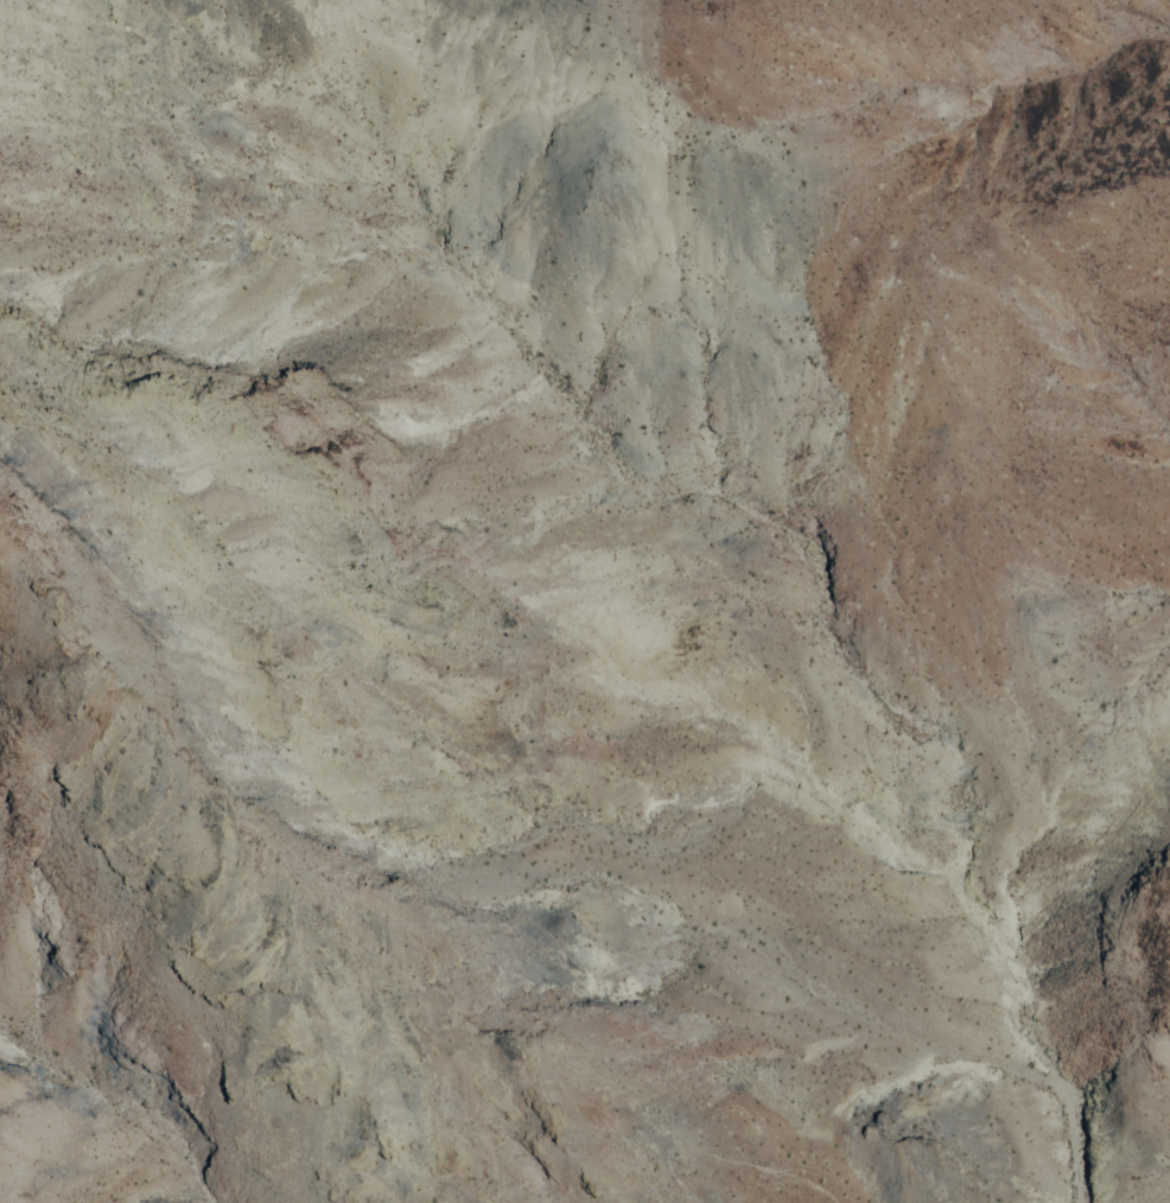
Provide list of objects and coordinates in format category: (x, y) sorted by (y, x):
road: (1074, 1144)

